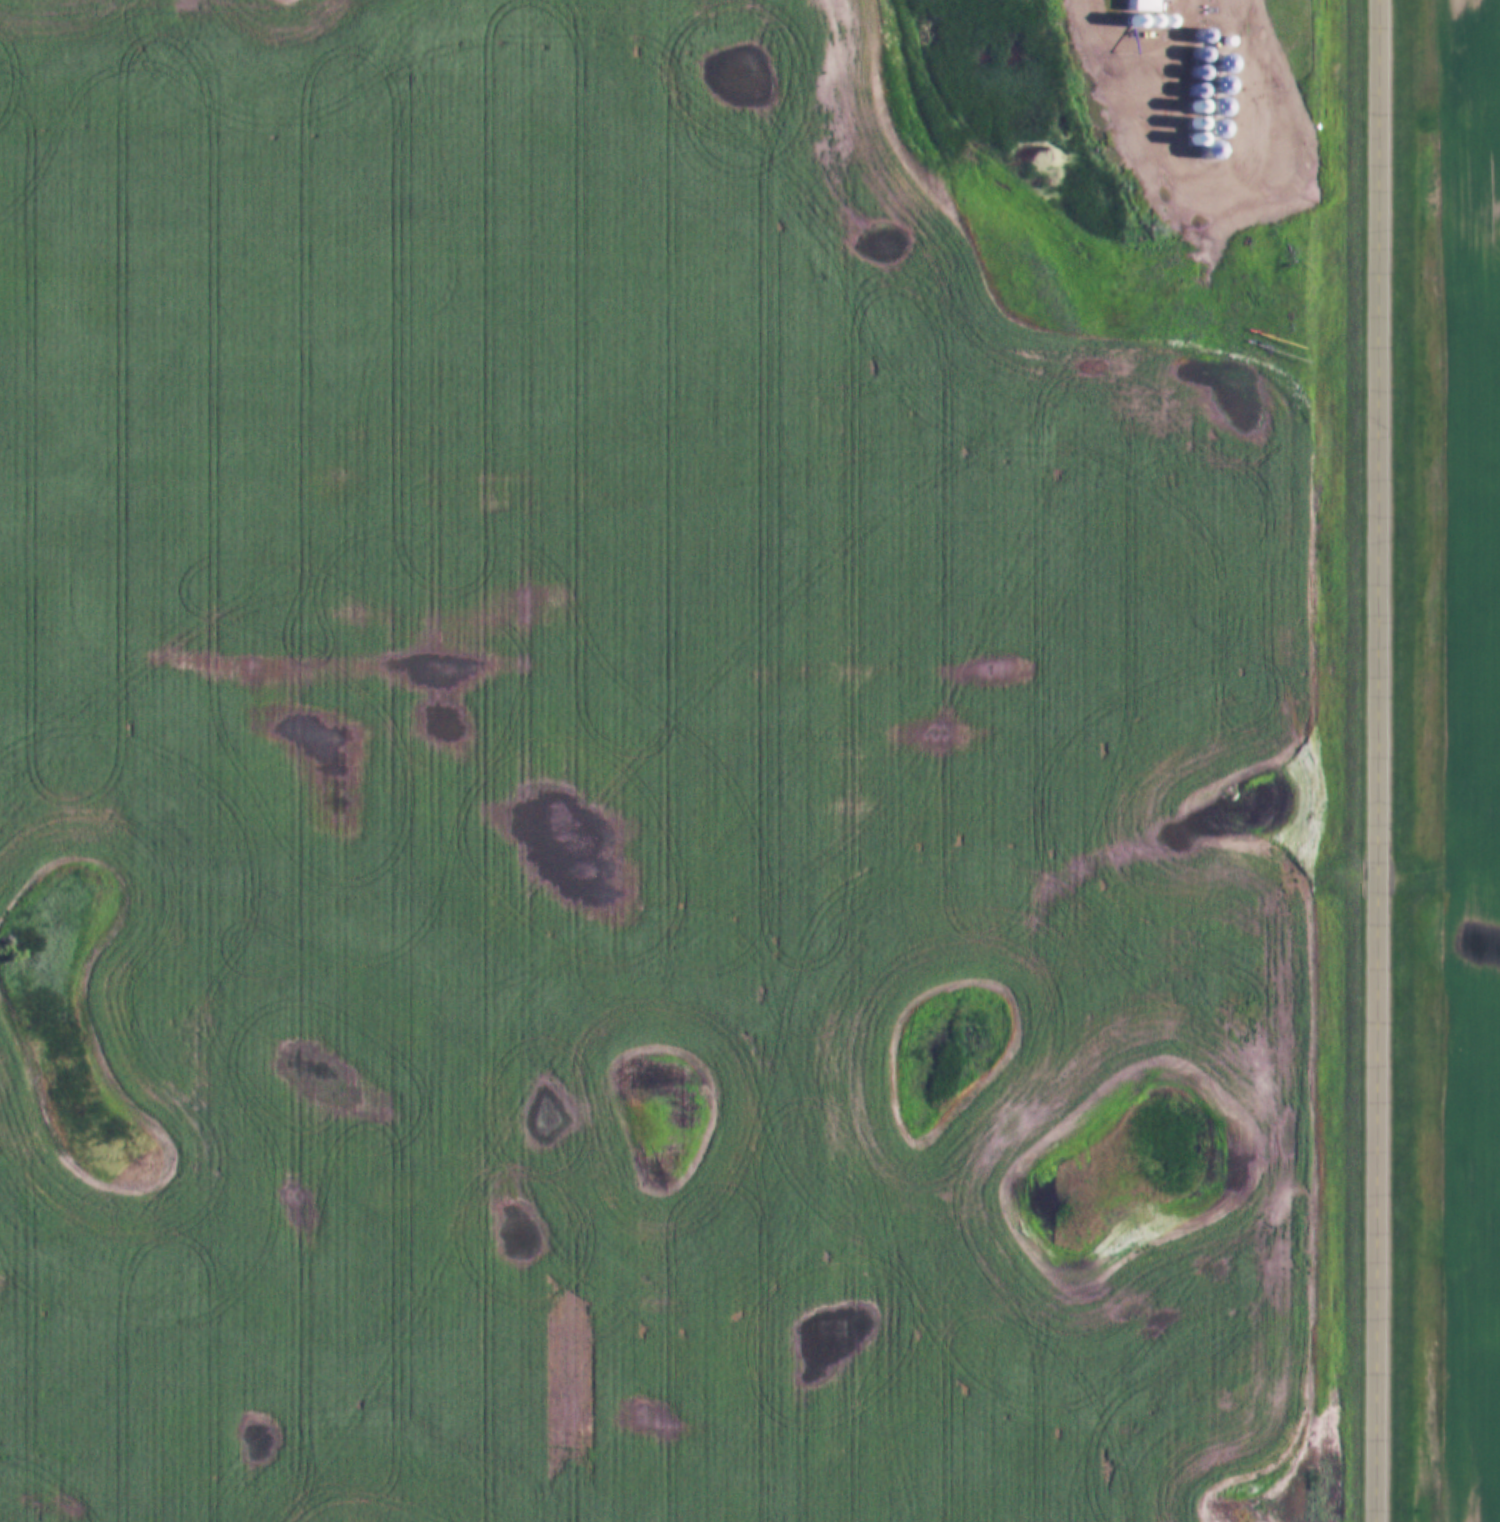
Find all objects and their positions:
building: (1143, 5)
building: (1197, 83)
building: (1214, 102)
building: (1211, 131)
building: (1209, 151)
road: (1378, 761)

